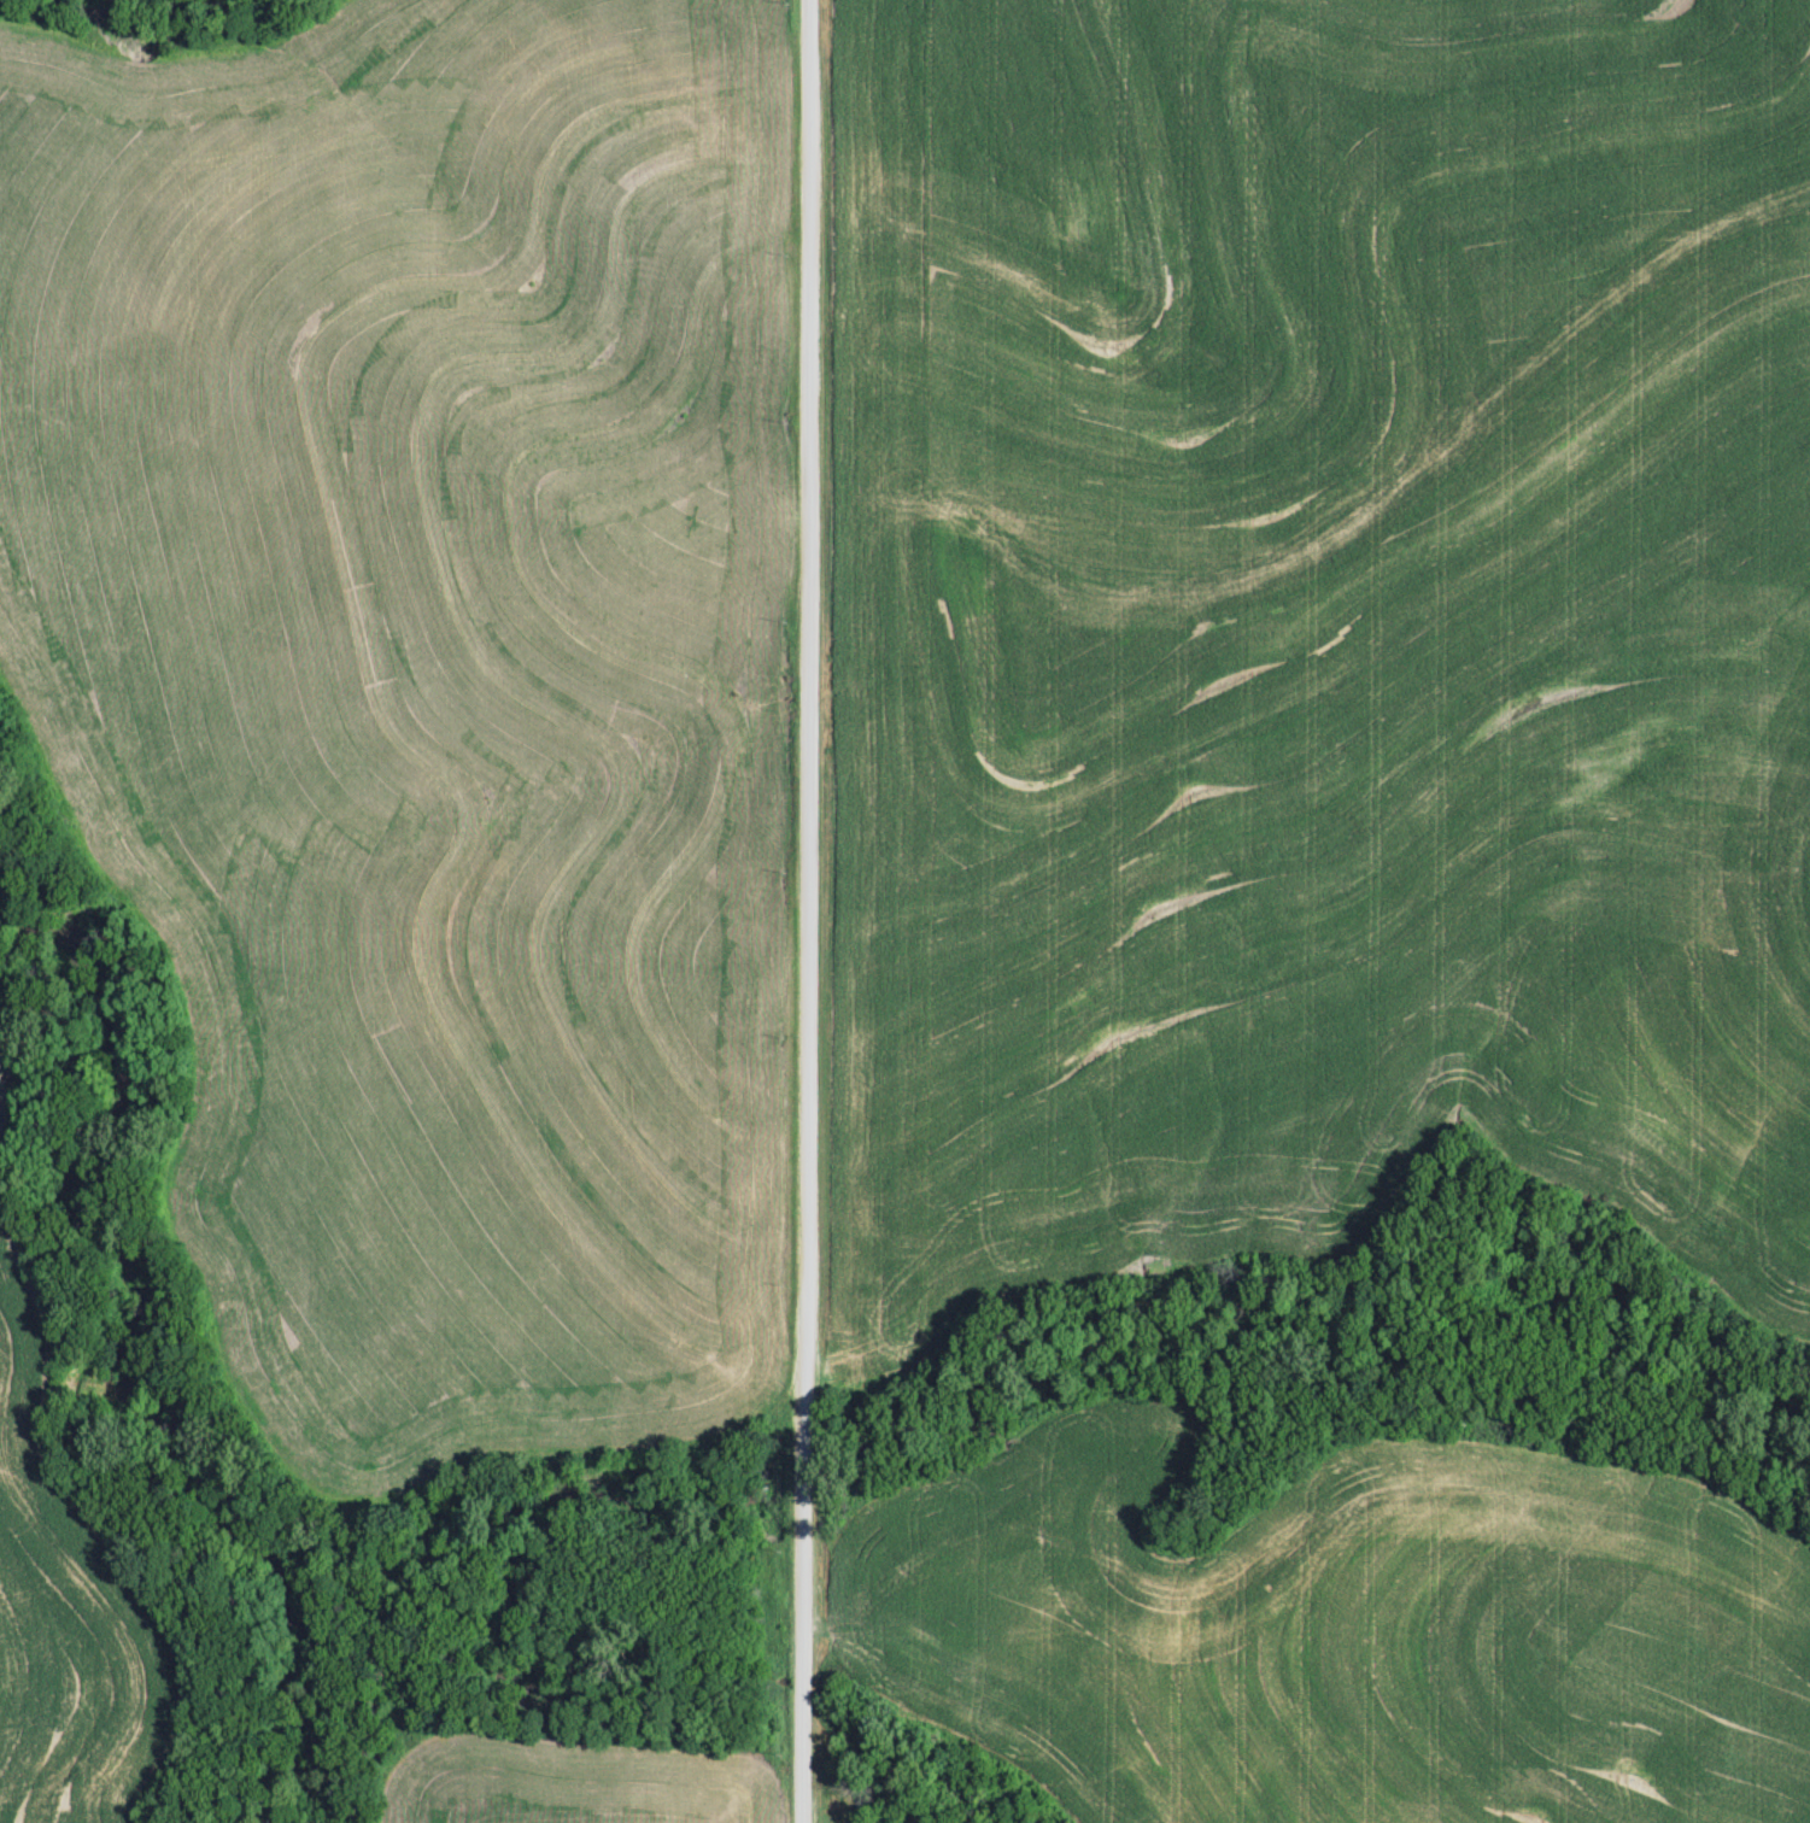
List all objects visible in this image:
road: (810, 911)

